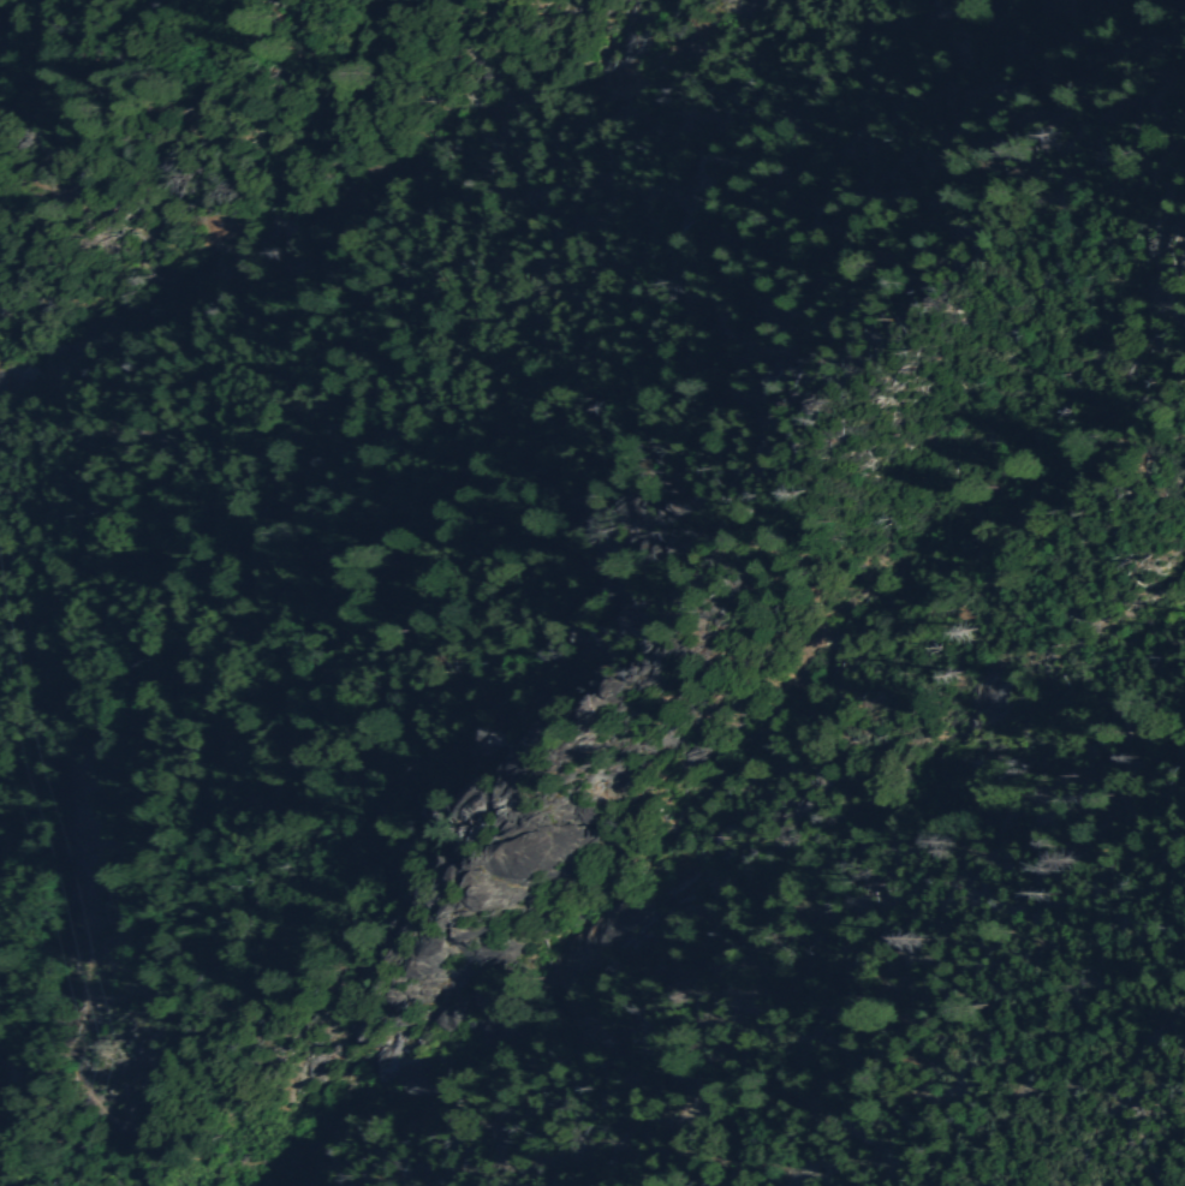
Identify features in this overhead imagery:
power tower: (118, 1048)

